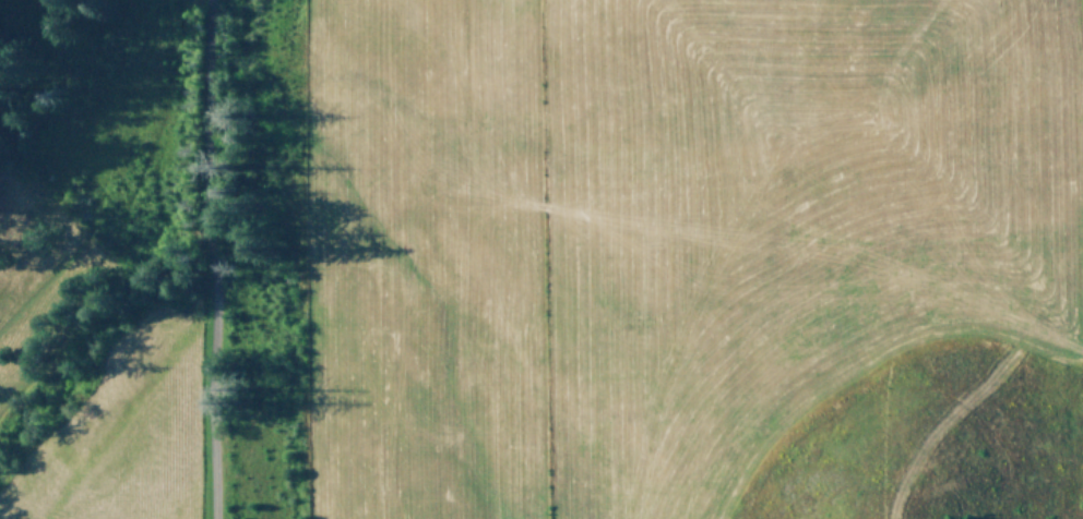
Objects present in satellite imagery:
road: (211, 259)

